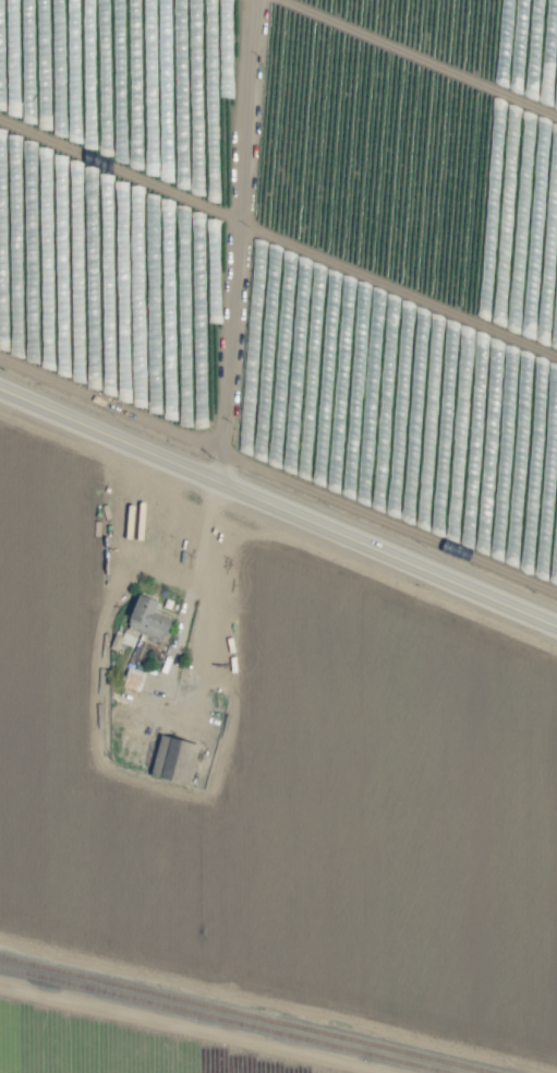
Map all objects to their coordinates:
road: (242, 241)
crop: (284, 498)
road: (279, 504)
building: (146, 618)
building: (132, 679)
building: (172, 760)
railway: (244, 1014)
railway: (222, 1020)
crop: (113, 1046)

